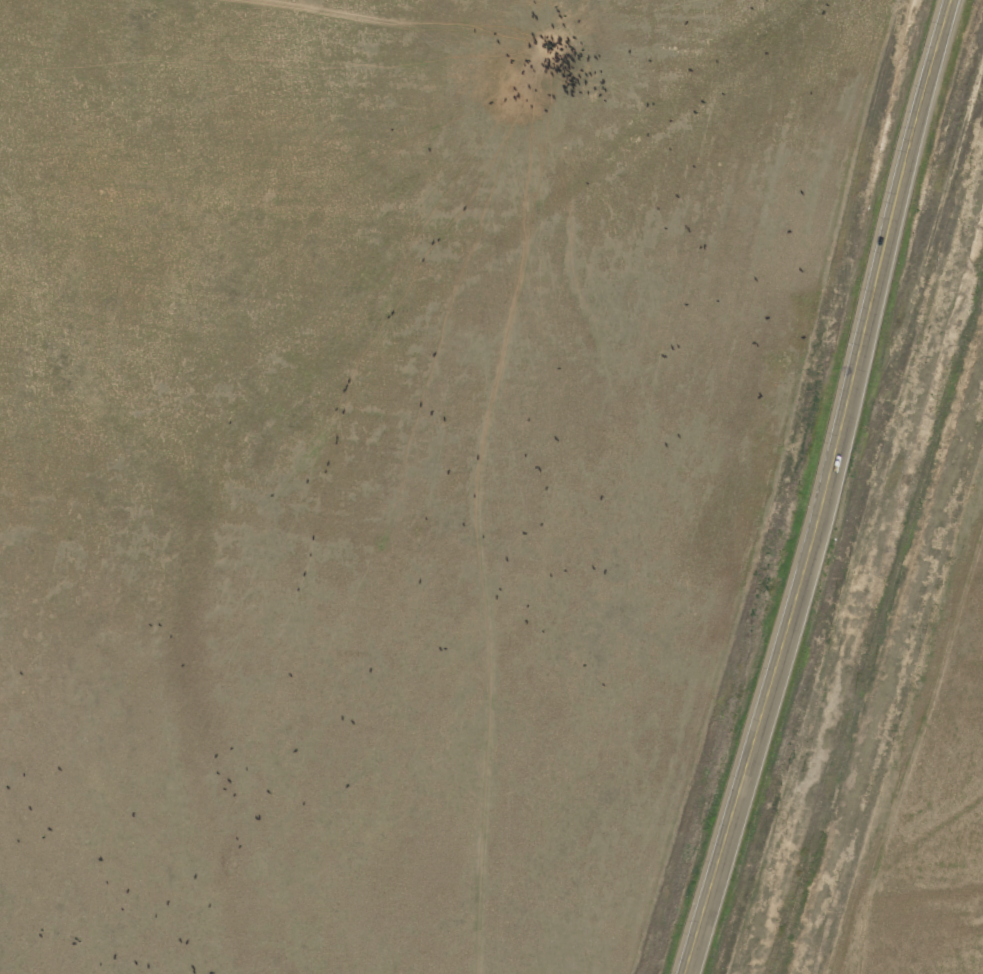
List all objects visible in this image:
road: (823, 489)

